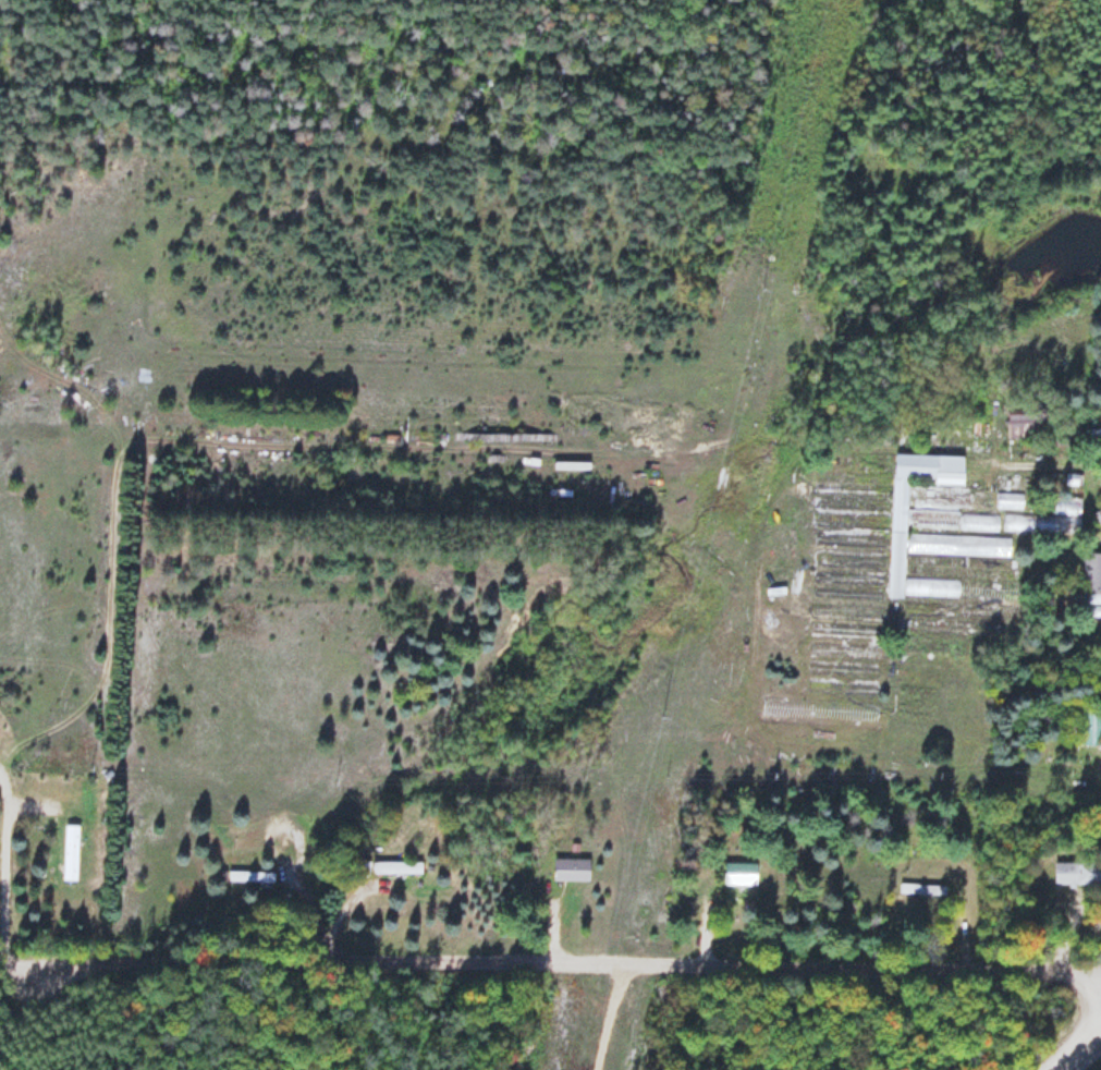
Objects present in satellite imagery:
building: (1027, 424)
building: (1010, 502)
building: (938, 516)
building: (1050, 518)
building: (1091, 574)
building: (1089, 727)
building: (70, 852)
building: (396, 866)
building: (571, 868)
road: (4, 870)
building: (739, 873)
building: (1077, 873)
building: (922, 889)
road: (305, 897)
road: (347, 902)
road: (2, 962)
road: (167, 962)
road: (714, 965)
road: (1097, 1021)
road: (1072, 1048)

